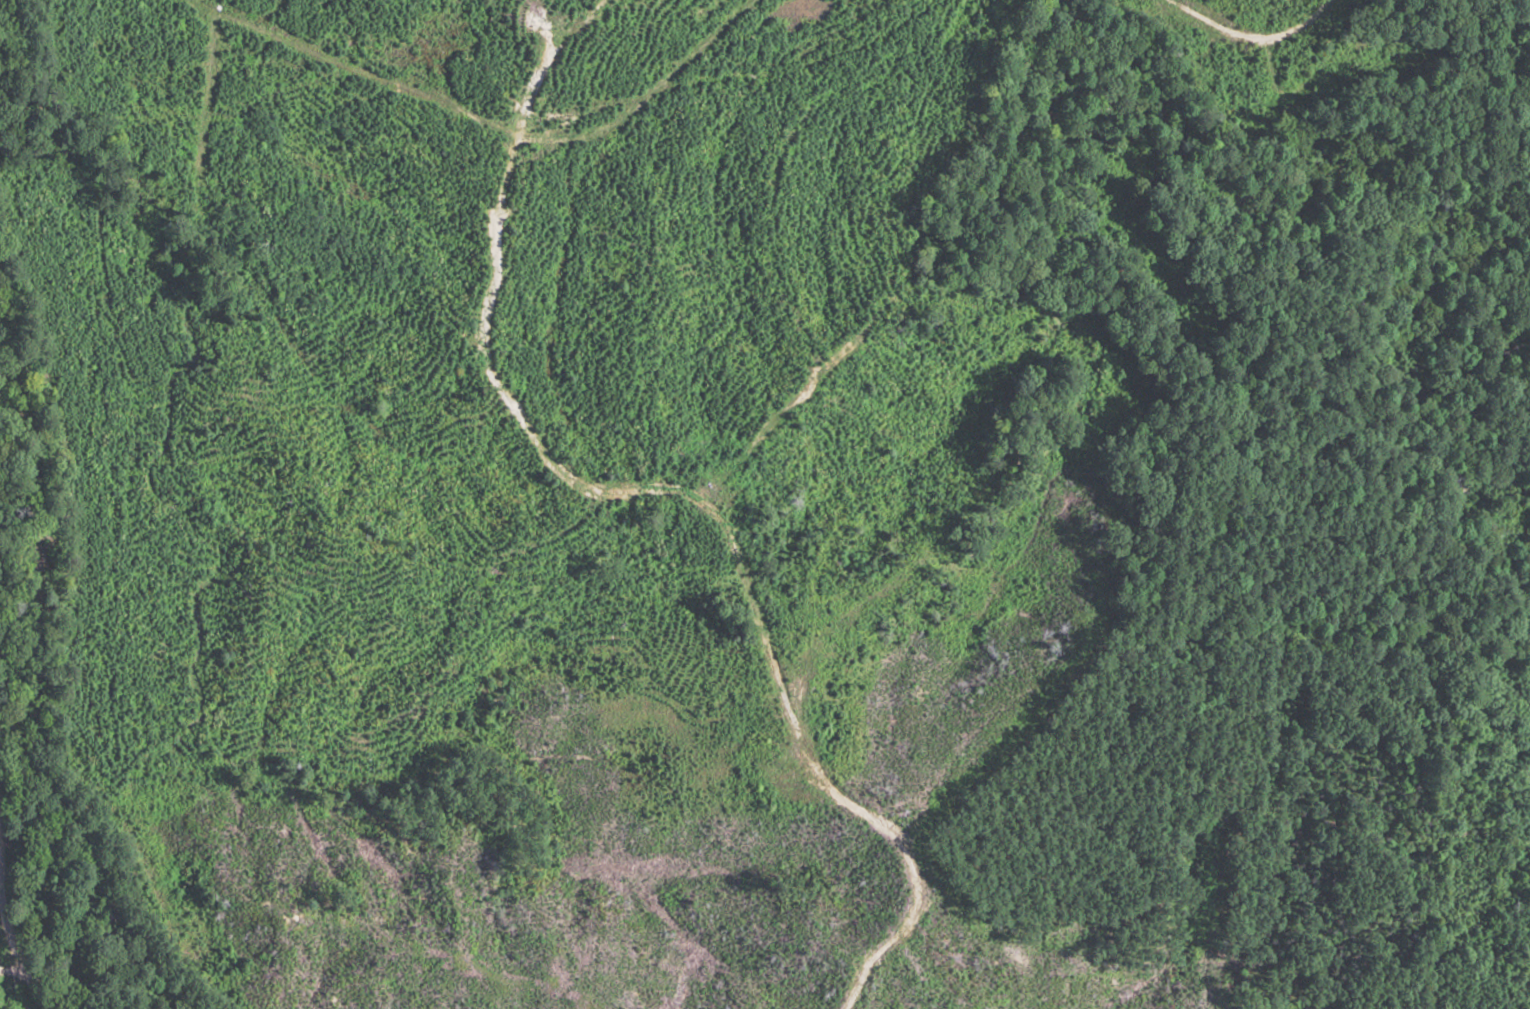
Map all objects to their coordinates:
road: (0, 817)

